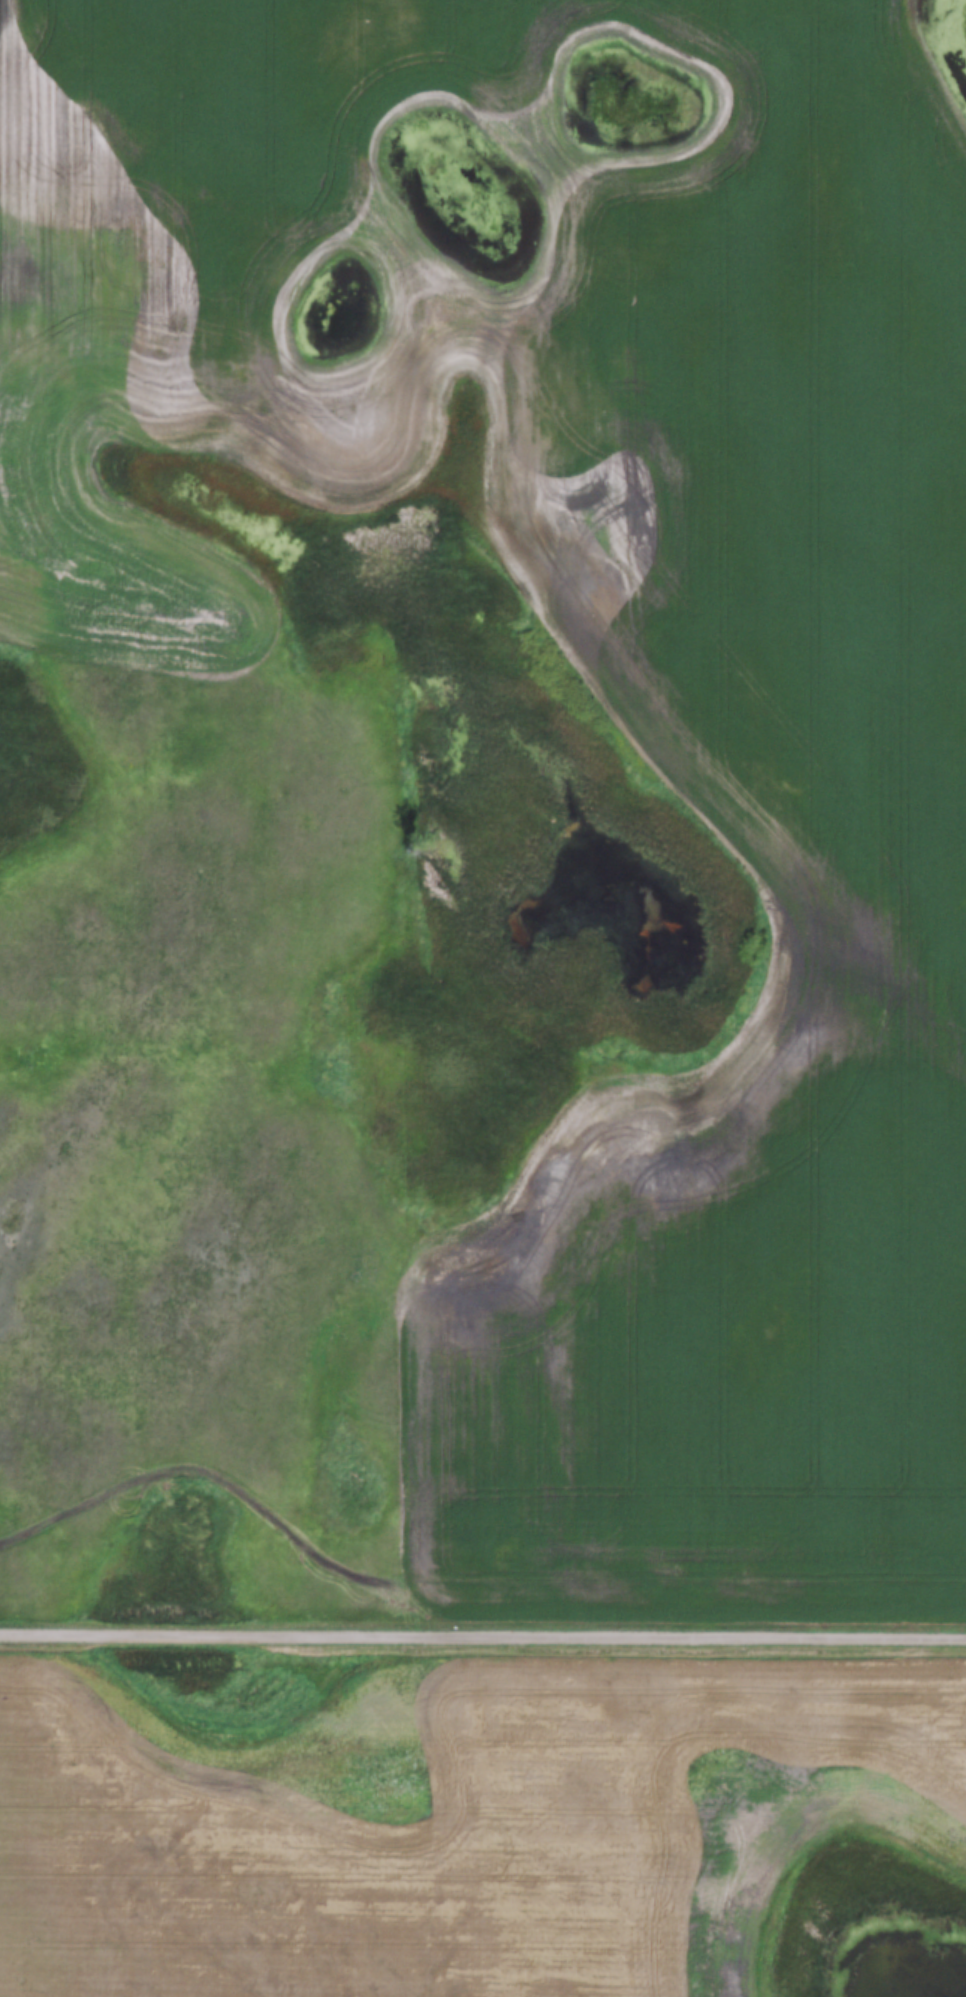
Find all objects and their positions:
road: (483, 1634)

